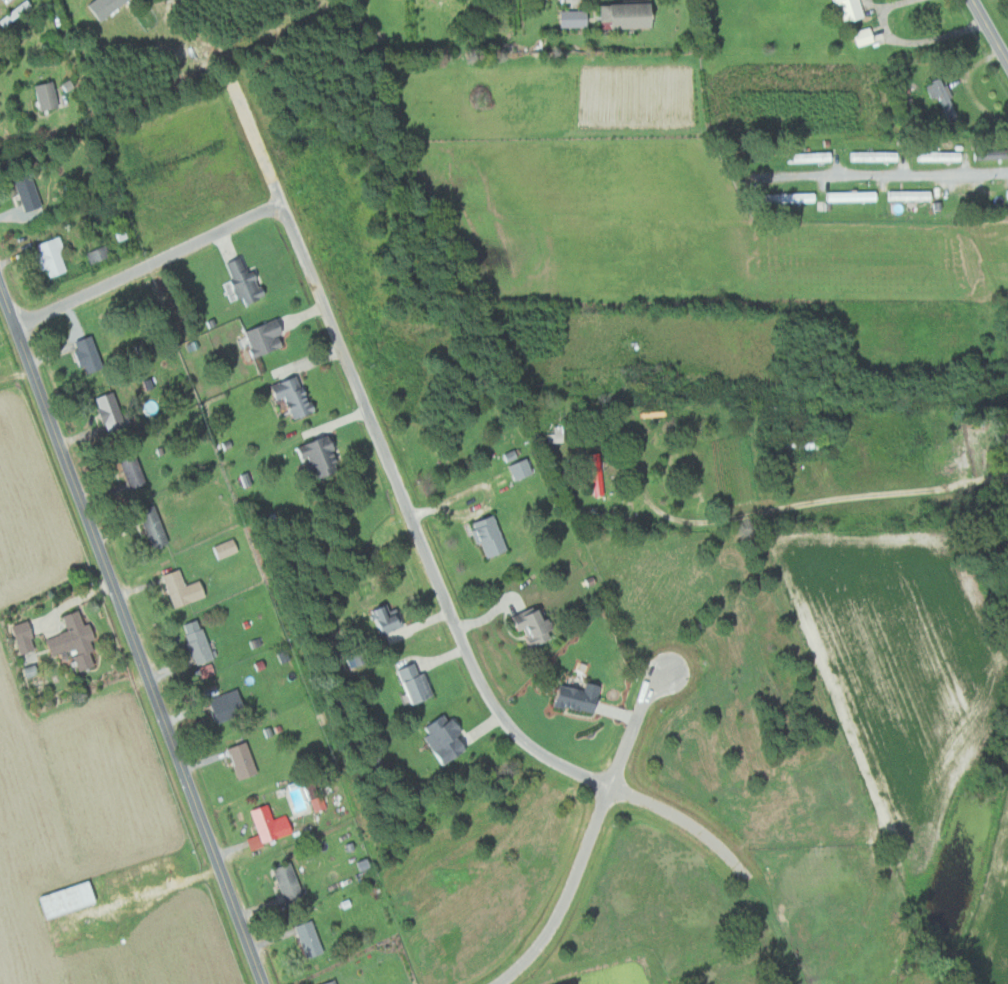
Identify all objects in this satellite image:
building: (108, 6)
building: (20, 10)
building: (846, 10)
building: (631, 15)
building: (576, 18)
road: (991, 31)
building: (867, 36)
road: (910, 41)
building: (182, 52)
building: (202, 56)
building: (49, 96)
building: (942, 98)
building: (991, 153)
building: (808, 156)
building: (872, 156)
building: (938, 156)
road: (887, 175)
building: (28, 193)
building: (1007, 193)
building: (908, 195)
building: (850, 196)
building: (789, 197)
building: (54, 257)
road: (148, 266)
building: (247, 281)
building: (267, 338)
building: (90, 355)
building: (296, 397)
building: (113, 412)
building: (322, 457)
building: (523, 468)
building: (136, 472)
building: (598, 473)
road: (875, 494)
road: (665, 514)
building: (157, 527)
building: (492, 535)
road: (420, 540)
building: (228, 547)
building: (185, 587)
building: (389, 618)
building: (536, 624)
building: (26, 636)
road: (132, 638)
building: (78, 639)
building: (200, 641)
building: (418, 682)
building: (583, 696)
building: (231, 704)
road: (640, 715)
building: (449, 737)
building: (245, 759)
building: (321, 802)
building: (271, 825)
building: (291, 882)
road: (568, 894)
building: (71, 898)
building: (312, 938)
building: (333, 982)

